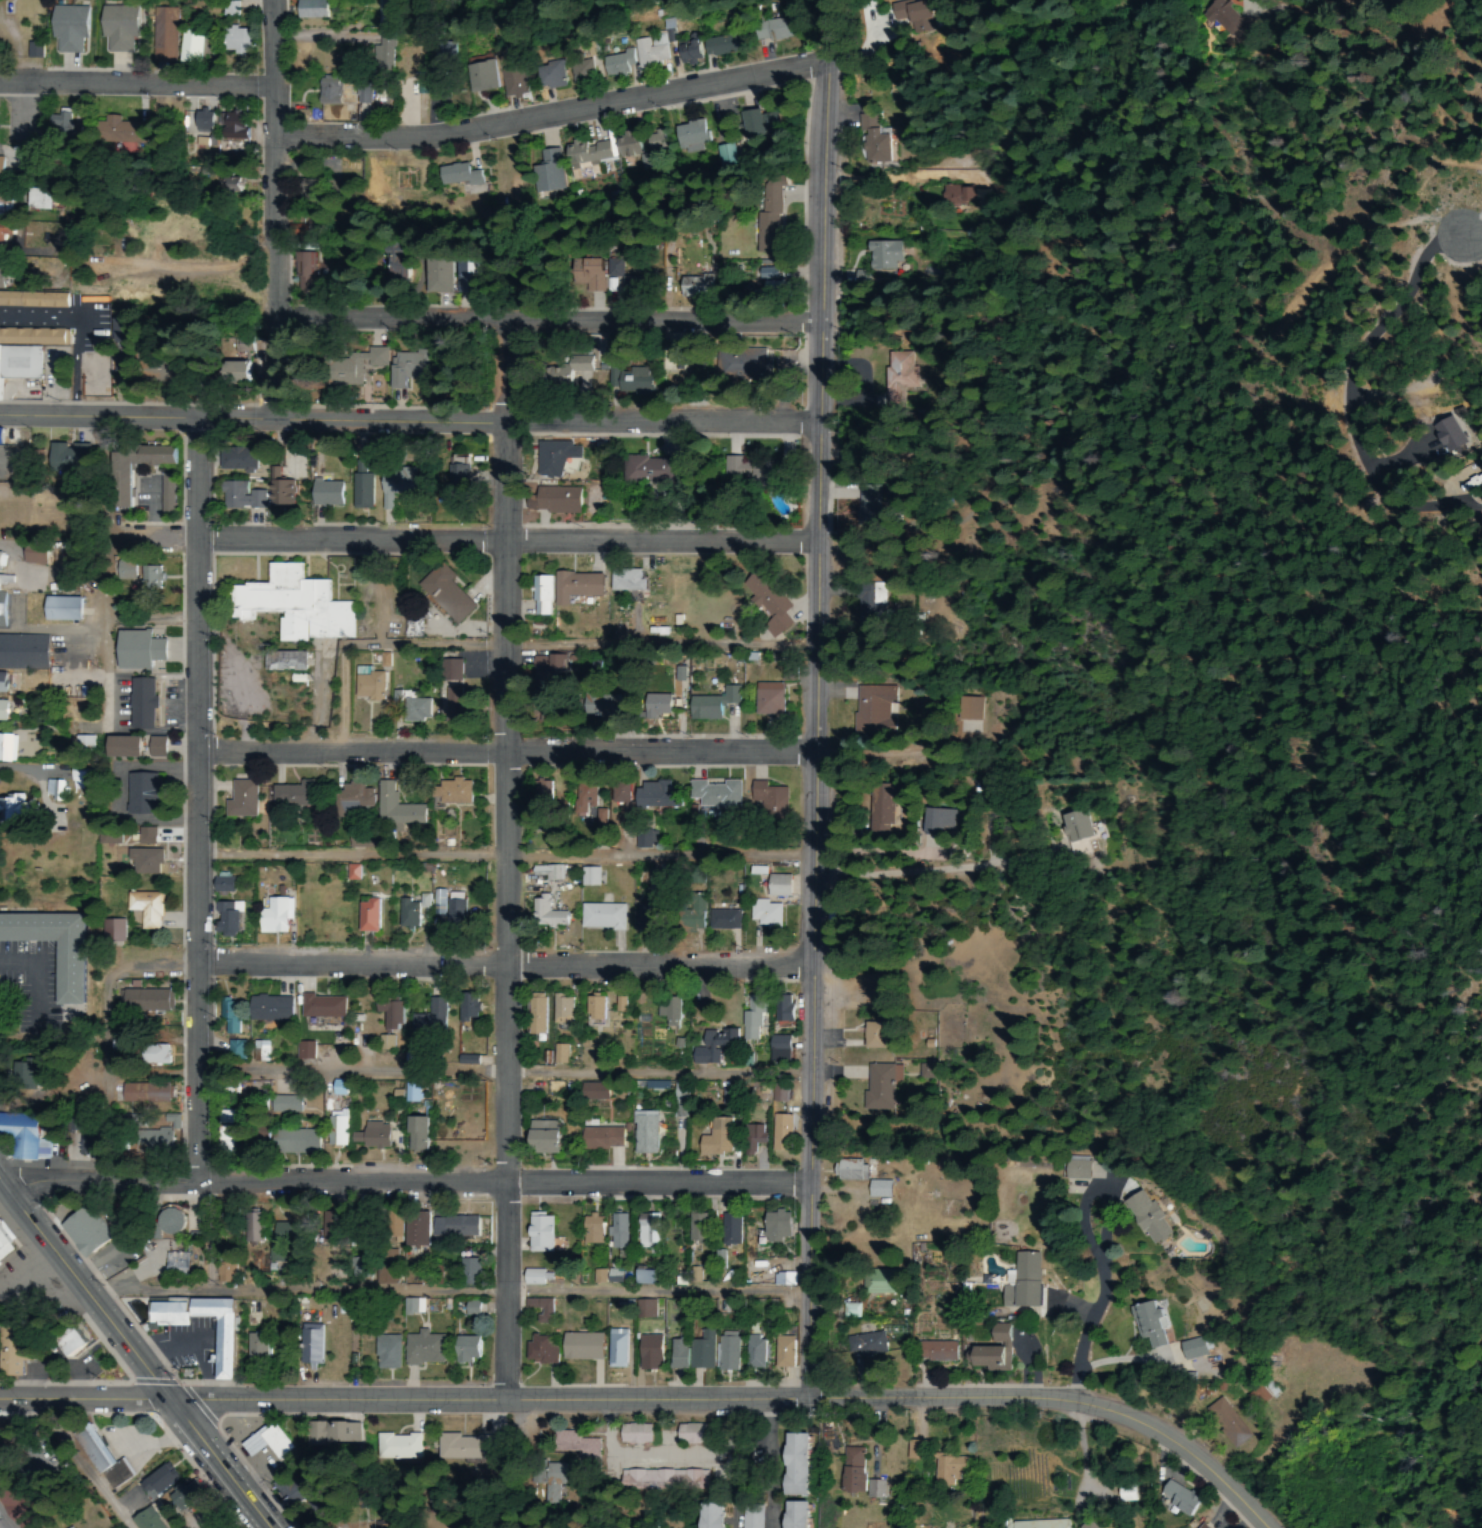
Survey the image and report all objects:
building: (313, 9)
building: (913, 14)
building: (383, 15)
building: (1221, 15)
building: (67, 28)
building: (118, 29)
building: (773, 29)
building: (163, 34)
building: (237, 41)
building: (724, 45)
building: (189, 46)
building: (34, 49)
building: (688, 49)
building: (445, 52)
building: (649, 53)
building: (383, 54)
building: (615, 64)
building: (580, 73)
building: (550, 77)
building: (514, 82)
building: (485, 83)
road: (137, 84)
building: (326, 90)
building: (362, 94)
road: (553, 114)
building: (61, 118)
building: (201, 121)
building: (762, 124)
building: (233, 125)
building: (122, 130)
building: (692, 135)
building: (872, 140)
building: (640, 143)
building: (590, 152)
building: (0, 167)
building: (547, 172)
building: (456, 174)
building: (232, 184)
building: (305, 186)
building: (472, 189)
building: (954, 196)
building: (38, 199)
building: (3, 202)
road: (273, 209)
building: (770, 217)
building: (7, 232)
road: (1473, 232)
building: (882, 255)
building: (304, 264)
building: (404, 267)
building: (615, 268)
building: (585, 273)
building: (767, 273)
building: (438, 274)
building: (0, 275)
building: (470, 276)
building: (692, 287)
building: (32, 298)
road: (547, 321)
building: (22, 360)
building: (365, 362)
building: (742, 364)
road: (1358, 364)
building: (577, 365)
building: (232, 371)
building: (413, 371)
building: (901, 372)
building: (627, 380)
road: (410, 422)
building: (1451, 433)
building: (1, 437)
building: (161, 456)
building: (66, 458)
building: (552, 458)
building: (238, 462)
building: (125, 464)
building: (737, 468)
building: (641, 470)
building: (458, 472)
building: (283, 486)
building: (400, 488)
building: (365, 492)
building: (166, 494)
building: (330, 494)
building: (241, 496)
building: (462, 497)
building: (868, 500)
building: (554, 501)
road: (1419, 505)
road: (506, 540)
building: (33, 556)
building: (126, 571)
building: (150, 577)
building: (627, 581)
building: (576, 587)
building: (448, 594)
building: (873, 594)
building: (542, 596)
building: (769, 603)
building: (298, 605)
building: (65, 609)
building: (415, 627)
building: (140, 651)
building: (22, 652)
building: (284, 661)
building: (550, 665)
building: (2, 683)
building: (372, 685)
building: (454, 692)
building: (770, 699)
road: (817, 699)
building: (142, 703)
building: (714, 704)
building: (658, 705)
building: (605, 706)
building: (973, 709)
building: (6, 710)
building: (416, 710)
building: (878, 711)
building: (84, 743)
building: (6, 744)
building: (138, 747)
road: (504, 753)
building: (82, 777)
building: (54, 789)
building: (540, 790)
building: (452, 791)
building: (142, 793)
building: (716, 793)
building: (356, 794)
building: (582, 794)
building: (616, 794)
building: (656, 795)
building: (294, 796)
road: (192, 798)
building: (243, 799)
building: (771, 800)
building: (11, 808)
building: (396, 808)
building: (883, 810)
building: (600, 816)
building: (945, 822)
building: (1084, 825)
building: (145, 836)
building: (109, 837)
building: (646, 839)
road: (348, 856)
building: (141, 860)
road: (506, 861)
road: (660, 862)
building: (549, 872)
building: (353, 873)
building: (589, 877)
building: (223, 882)
building: (778, 886)
building: (424, 901)
building: (438, 902)
building: (142, 910)
building: (453, 912)
building: (692, 912)
building: (405, 914)
building: (764, 915)
building: (275, 916)
building: (367, 916)
building: (542, 916)
building: (601, 918)
building: (650, 918)
building: (225, 919)
building: (722, 920)
building: (113, 931)
road: (503, 961)
building: (69, 974)
building: (141, 1001)
building: (617, 1004)
building: (783, 1007)
building: (321, 1008)
building: (560, 1008)
building: (594, 1008)
building: (269, 1010)
building: (464, 1011)
building: (664, 1011)
building: (388, 1013)
building: (534, 1013)
building: (229, 1015)
building: (426, 1019)
building: (751, 1019)
building: (874, 1034)
building: (713, 1046)
building: (778, 1048)
building: (232, 1051)
building: (253, 1051)
building: (300, 1051)
building: (560, 1053)
building: (154, 1055)
road: (502, 1073)
building: (22, 1075)
building: (881, 1085)
building: (593, 1091)
building: (412, 1092)
building: (143, 1093)
building: (779, 1094)
building: (282, 1106)
building: (332, 1128)
building: (224, 1130)
building: (643, 1132)
building: (779, 1132)
building: (410, 1133)
building: (372, 1135)
building: (22, 1136)
building: (258, 1136)
building: (544, 1137)
building: (599, 1137)
building: (752, 1137)
building: (715, 1138)
building: (152, 1139)
building: (291, 1141)
building: (849, 1170)
building: (1074, 1170)
road: (405, 1181)
building: (879, 1188)
building: (1146, 1218)
building: (173, 1222)
building: (328, 1226)
building: (776, 1226)
building: (393, 1227)
building: (249, 1228)
building: (452, 1228)
building: (645, 1230)
building: (697, 1230)
building: (728, 1230)
building: (413, 1231)
building: (590, 1231)
building: (616, 1231)
building: (83, 1234)
building: (539, 1234)
building: (281, 1239)
building: (6, 1245)
building: (174, 1263)
building: (0, 1265)
building: (225, 1272)
building: (464, 1272)
building: (599, 1275)
building: (614, 1275)
building: (381, 1277)
building: (529, 1278)
building: (644, 1278)
building: (1024, 1279)
building: (877, 1282)
road: (445, 1293)
road: (1098, 1295)
building: (413, 1306)
building: (539, 1308)
building: (645, 1308)
building: (468, 1309)
building: (1147, 1323)
building: (998, 1332)
building: (69, 1343)
building: (256, 1344)
building: (858, 1344)
building: (310, 1345)
building: (579, 1347)
building: (1193, 1348)
building: (614, 1349)
building: (419, 1350)
building: (537, 1350)
building: (13, 1351)
building: (465, 1351)
building: (784, 1351)
building: (934, 1351)
building: (223, 1352)
building: (382, 1352)
building: (648, 1352)
building: (690, 1353)
building: (725, 1353)
building: (754, 1353)
road: (131, 1354)
building: (990, 1358)
building: (1255, 1397)
road: (1060, 1399)
road: (405, 1401)
building: (1227, 1422)
building: (334, 1432)
building: (635, 1433)
building: (312, 1434)
building: (689, 1434)
building: (262, 1441)
building: (396, 1446)
building: (573, 1446)
building: (466, 1447)
building: (914, 1449)
building: (101, 1460)
building: (798, 1464)
building: (946, 1469)
building: (854, 1473)
building: (555, 1480)
building: (662, 1480)
building: (157, 1481)
building: (876, 1489)
building: (290, 1491)
building: (1125, 1492)
building: (182, 1495)
building: (1178, 1499)
building: (20, 1504)
building: (711, 1515)
building: (797, 1515)
building: (748, 1516)
building: (143, 1521)
building: (1038, 1524)
road: (1, 1525)
building: (208, 1525)
building: (1087, 1525)
building: (67, 1527)
building: (70, 1527)
building: (1204, 1527)

